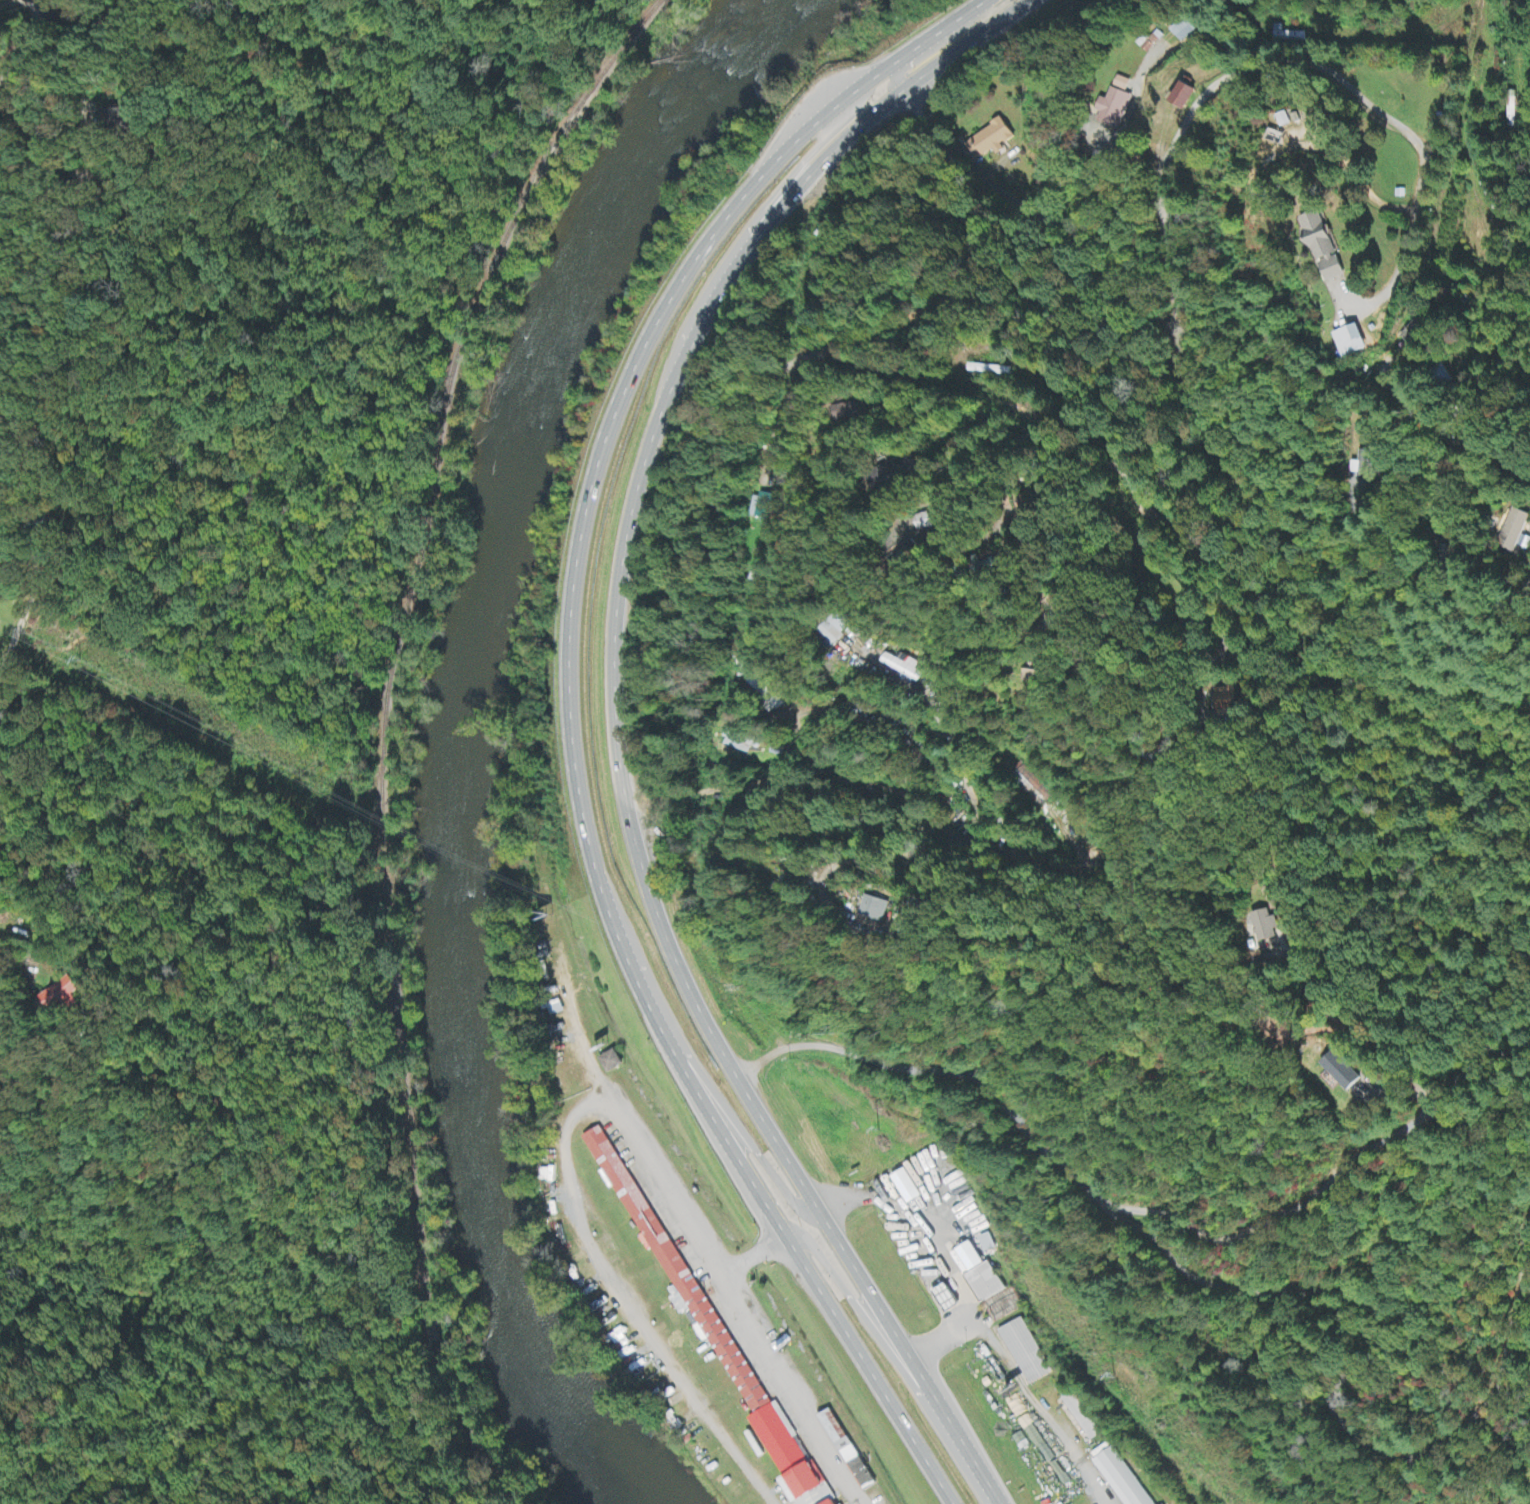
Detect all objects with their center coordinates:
building: (1181, 30)
road: (935, 41)
building: (1185, 97)
building: (1114, 105)
building: (125, 119)
building: (992, 139)
road: (821, 140)
road: (1475, 150)
road: (1155, 182)
road: (51, 243)
building: (1324, 247)
building: (1415, 333)
building: (1351, 342)
road: (1490, 378)
building: (846, 413)
road: (1481, 452)
building: (888, 474)
building: (763, 508)
building: (1516, 532)
road: (1337, 600)
road: (1238, 618)
road: (23, 619)
building: (837, 628)
building: (904, 669)
building: (1034, 677)
building: (1226, 702)
road: (615, 720)
road: (567, 721)
river: (467, 731)
railway: (381, 732)
building: (740, 743)
road: (1148, 769)
building: (1036, 787)
road: (743, 795)
road: (971, 816)
road: (976, 855)
building: (875, 909)
building: (1267, 926)
building: (63, 996)
building: (612, 1063)
building: (1344, 1071)
road: (730, 1114)
building: (908, 1188)
building: (980, 1275)
building: (947, 1300)
road: (859, 1315)
building: (712, 1329)
building: (1025, 1352)
building: (1081, 1419)
building: (848, 1452)
building: (838, 1502)

